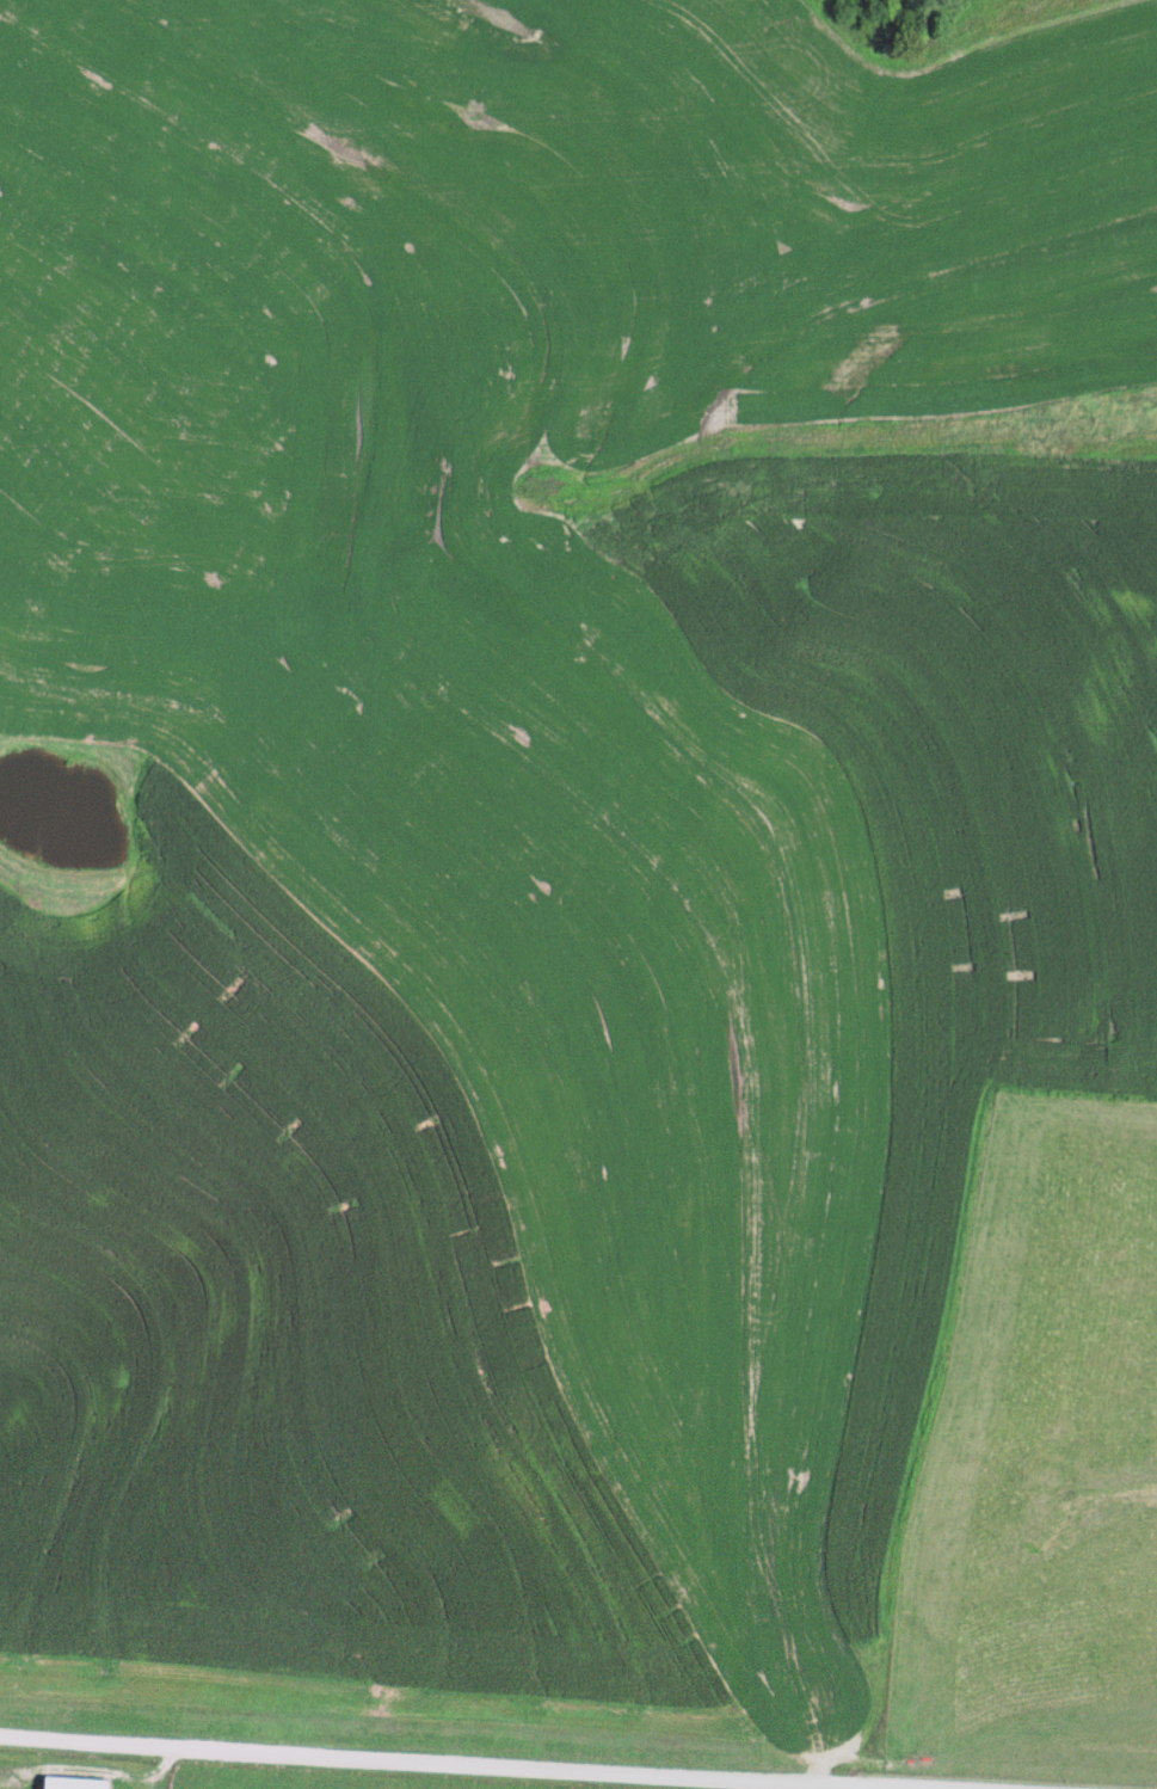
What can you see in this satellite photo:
road: (492, 1764)
road: (837, 1785)

